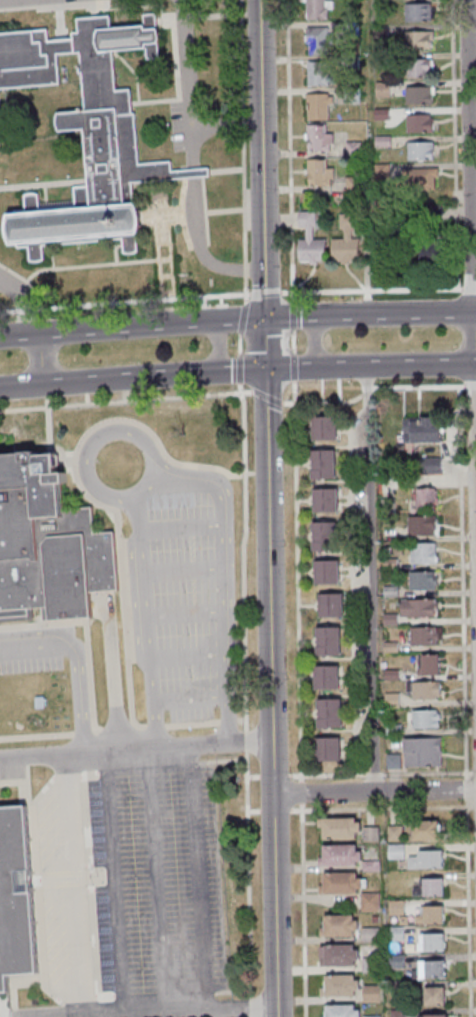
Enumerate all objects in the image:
building: (348, 0)
parking lot: (28, 2)
building: (315, 9)
building: (416, 13)
building: (348, 29)
building: (377, 31)
building: (415, 40)
building: (315, 41)
building: (348, 63)
building: (416, 68)
building: (314, 74)
road: (186, 84)
building: (380, 90)
building: (348, 95)
building: (416, 95)
building: (315, 106)
building: (379, 115)
road: (225, 122)
building: (417, 124)
road: (260, 134)
building: (86, 135)
building: (316, 139)
building: (380, 141)
building: (350, 149)
road: (285, 150)
road: (239, 152)
building: (418, 152)
building: (379, 172)
road: (191, 173)
building: (316, 173)
building: (414, 179)
building: (350, 188)
building: (430, 212)
road: (471, 219)
building: (343, 240)
building: (308, 241)
road: (199, 249)
building: (431, 250)
parking lot: (2, 275)
road: (376, 289)
road: (260, 292)
road: (264, 293)
road: (21, 302)
road: (122, 302)
road: (402, 314)
road: (292, 315)
road: (296, 317)
road: (242, 319)
traffic signals: (264, 319)
road: (235, 321)
road: (103, 331)
road: (313, 339)
road: (293, 341)
road: (239, 344)
road: (264, 344)
road: (216, 351)
road: (41, 360)
road: (421, 364)
road: (293, 365)
road: (342, 366)
road: (239, 368)
road: (292, 369)
traffic signals: (265, 370)
road: (231, 372)
road: (121, 380)
road: (470, 384)
road: (21, 386)
road: (373, 390)
road: (267, 395)
road: (125, 400)
building: (321, 429)
building: (419, 429)
building: (320, 464)
building: (429, 465)
road: (260, 472)
road: (84, 487)
building: (423, 499)
building: (323, 501)
building: (385, 506)
building: (419, 526)
building: (322, 537)
building: (48, 546)
building: (421, 554)
road: (243, 556)
building: (388, 564)
building: (324, 573)
road: (372, 579)
building: (420, 581)
building: (388, 591)
building: (329, 606)
building: (416, 608)
building: (388, 619)
road: (43, 624)
building: (421, 636)
building: (326, 642)
building: (388, 647)
road: (75, 664)
building: (426, 665)
building: (389, 675)
building: (325, 678)
building: (422, 690)
road: (271, 693)
road: (299, 699)
building: (390, 701)
building: (327, 714)
building: (421, 719)
road: (229, 720)
road: (242, 720)
road: (138, 723)
road: (193, 723)
road: (155, 724)
road: (116, 725)
road: (96, 729)
building: (391, 730)
road: (83, 732)
road: (37, 736)
road: (247, 742)
building: (325, 750)
road: (136, 751)
building: (420, 752)
building: (391, 761)
road: (474, 771)
road: (380, 772)
road: (273, 774)
road: (253, 776)
road: (374, 793)
road: (381, 808)
road: (253, 810)
road: (275, 810)
building: (337, 829)
building: (422, 830)
building: (393, 833)
building: (368, 834)
building: (394, 851)
building: (337, 856)
building: (424, 861)
building: (369, 866)
road: (248, 874)
road: (197, 880)
road: (156, 882)
road: (111, 885)
building: (337, 885)
road: (72, 886)
building: (427, 888)
building: (16, 899)
building: (368, 902)
building: (394, 908)
building: (429, 916)
building: (373, 919)
building: (337, 927)
building: (394, 934)
building: (368, 935)
building: (429, 943)
building: (337, 957)
building: (395, 961)
building: (368, 965)
building: (427, 971)
building: (337, 987)
road: (234, 991)
building: (369, 994)
building: (433, 997)
road: (252, 1006)
building: (339, 1011)
road: (189, 1012)
building: (395, 1013)
building: (373, 1015)
building: (430, 1016)

